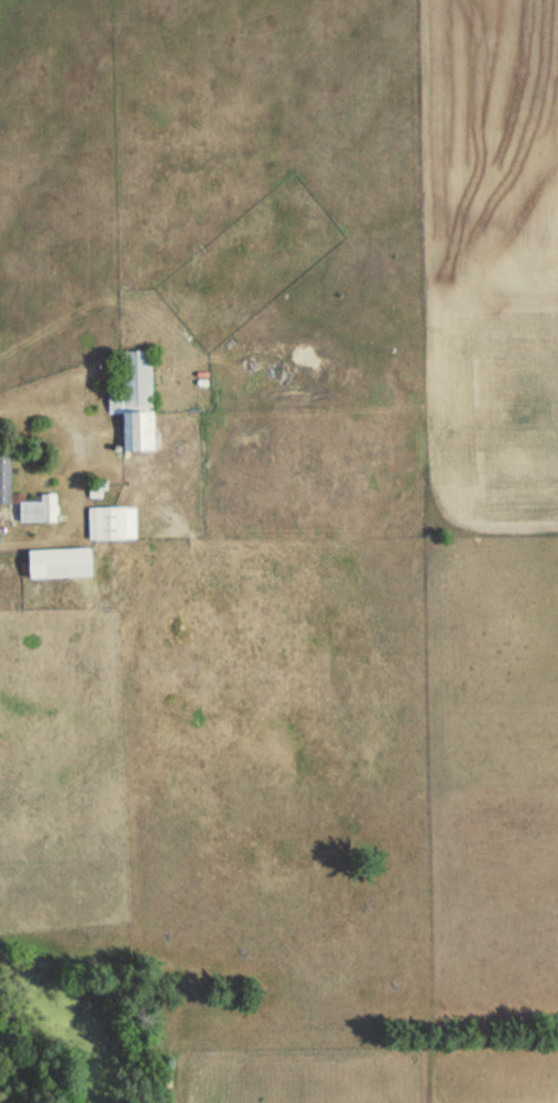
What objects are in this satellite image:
building: (135, 402)
building: (6, 478)
building: (112, 524)
building: (59, 563)

